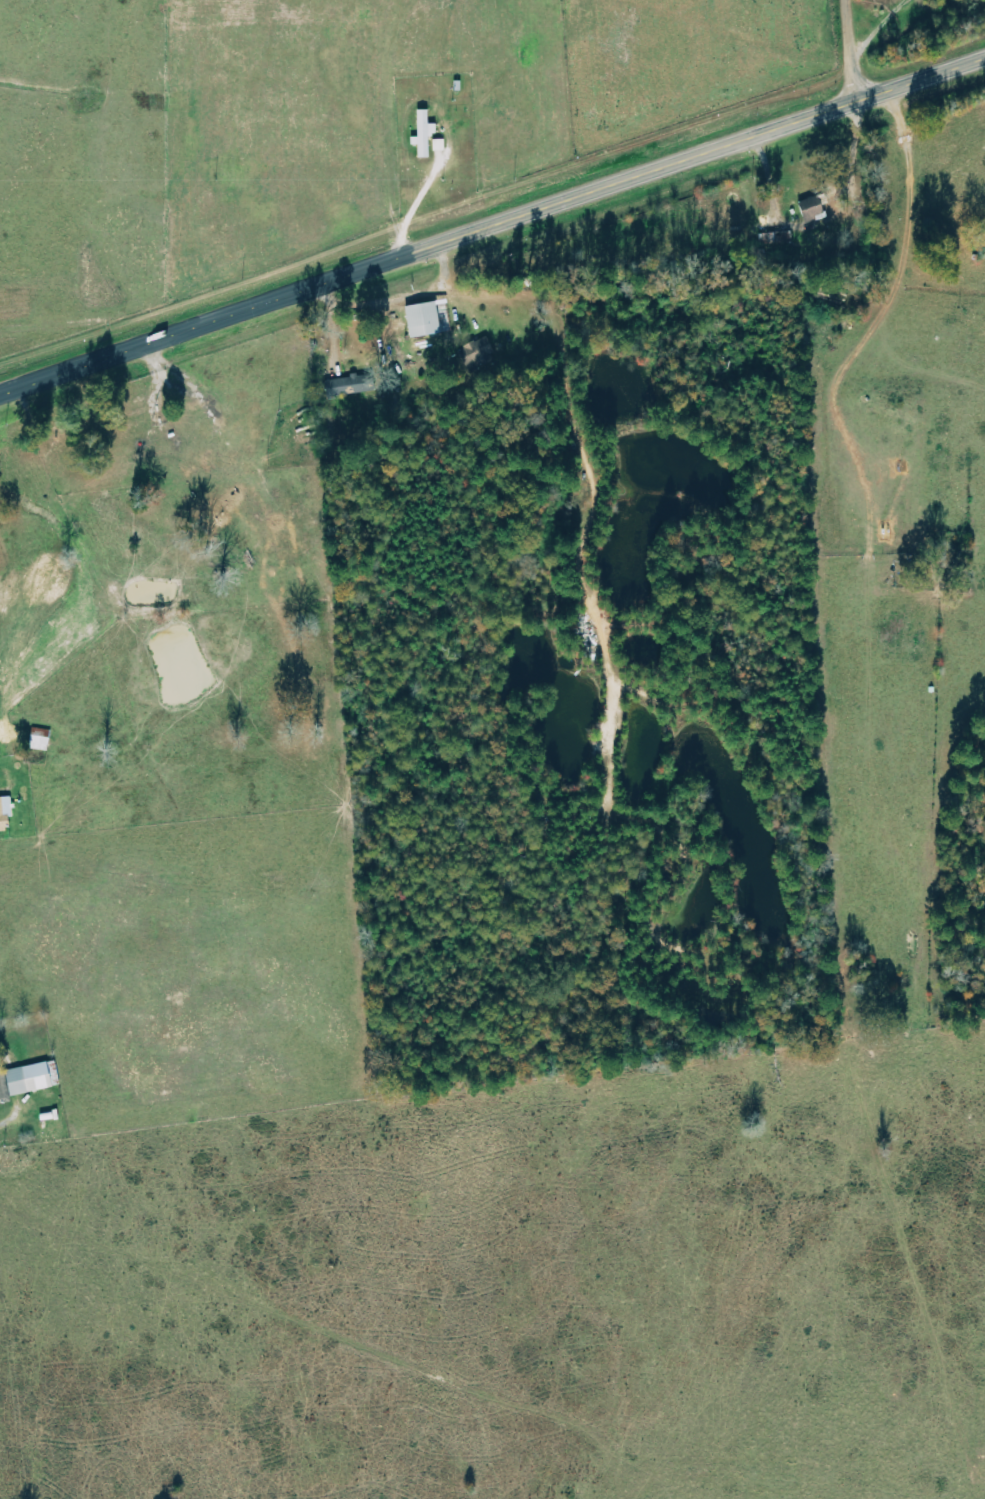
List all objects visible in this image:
road: (879, 26)
road: (850, 51)
building: (424, 135)
road: (416, 206)
building: (813, 210)
road: (492, 225)
building: (776, 239)
building: (424, 320)
building: (477, 353)
building: (351, 386)
building: (40, 740)
building: (5, 814)
building: (30, 1080)
building: (4, 1089)

